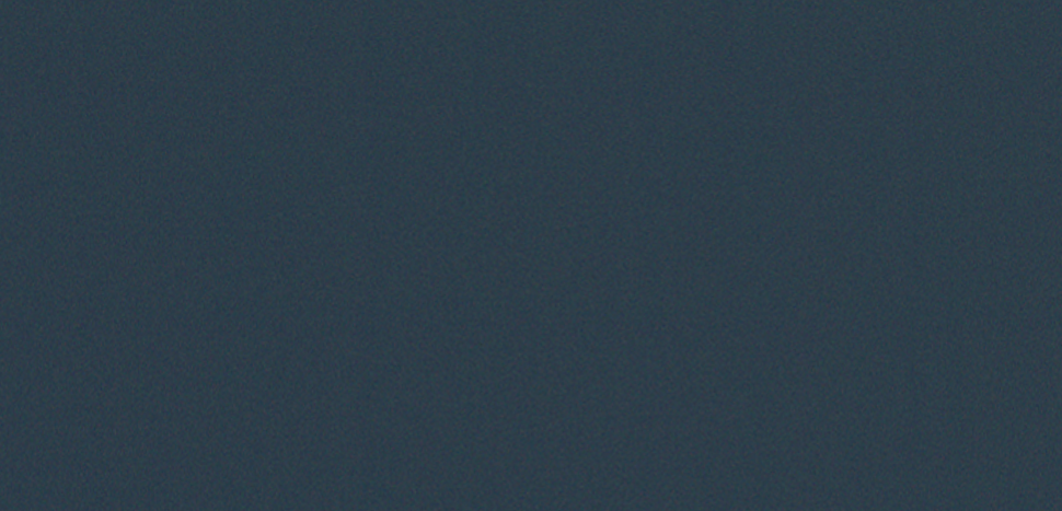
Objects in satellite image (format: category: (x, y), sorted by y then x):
river: (351, 224)
river: (13, 432)

